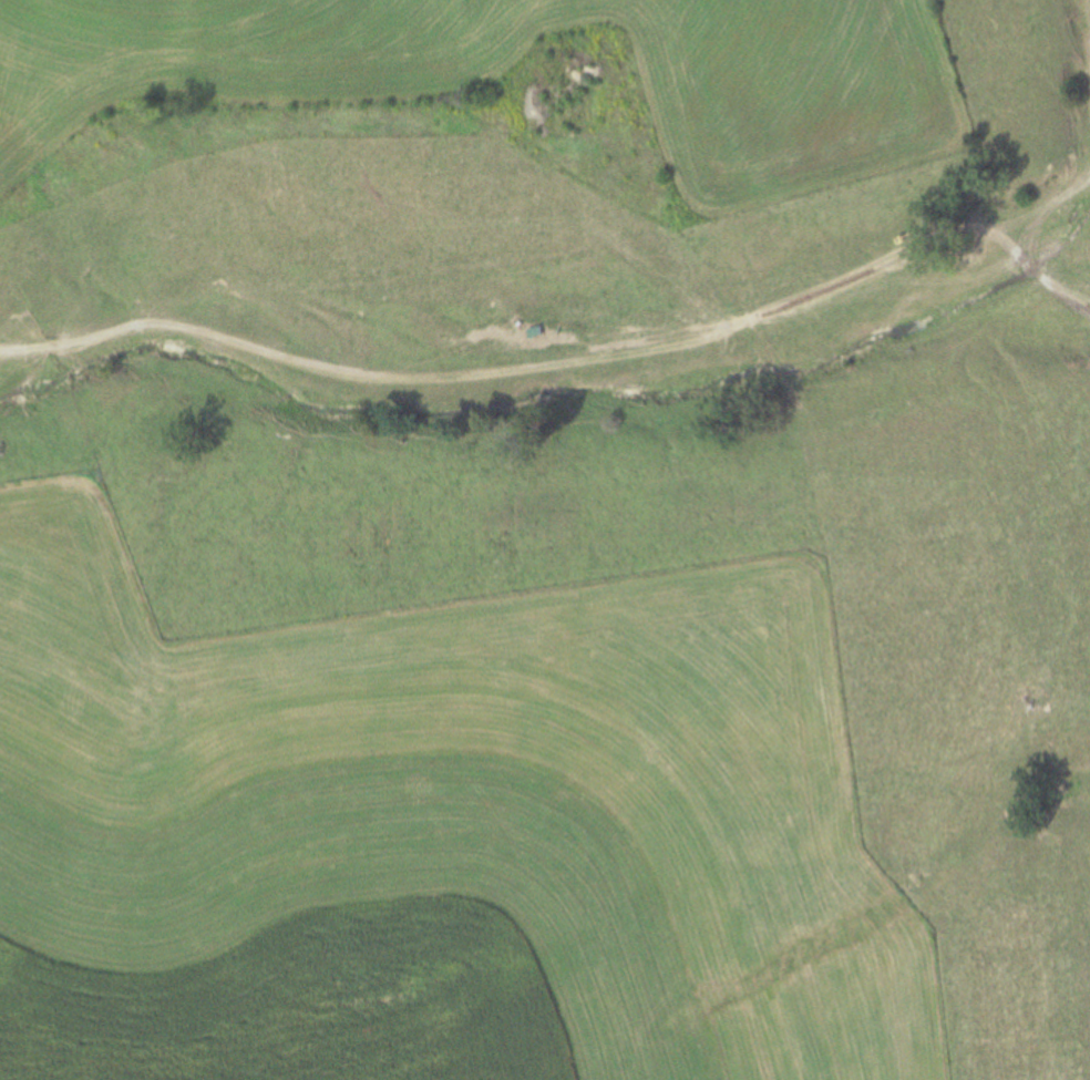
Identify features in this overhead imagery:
road: (561, 348)

